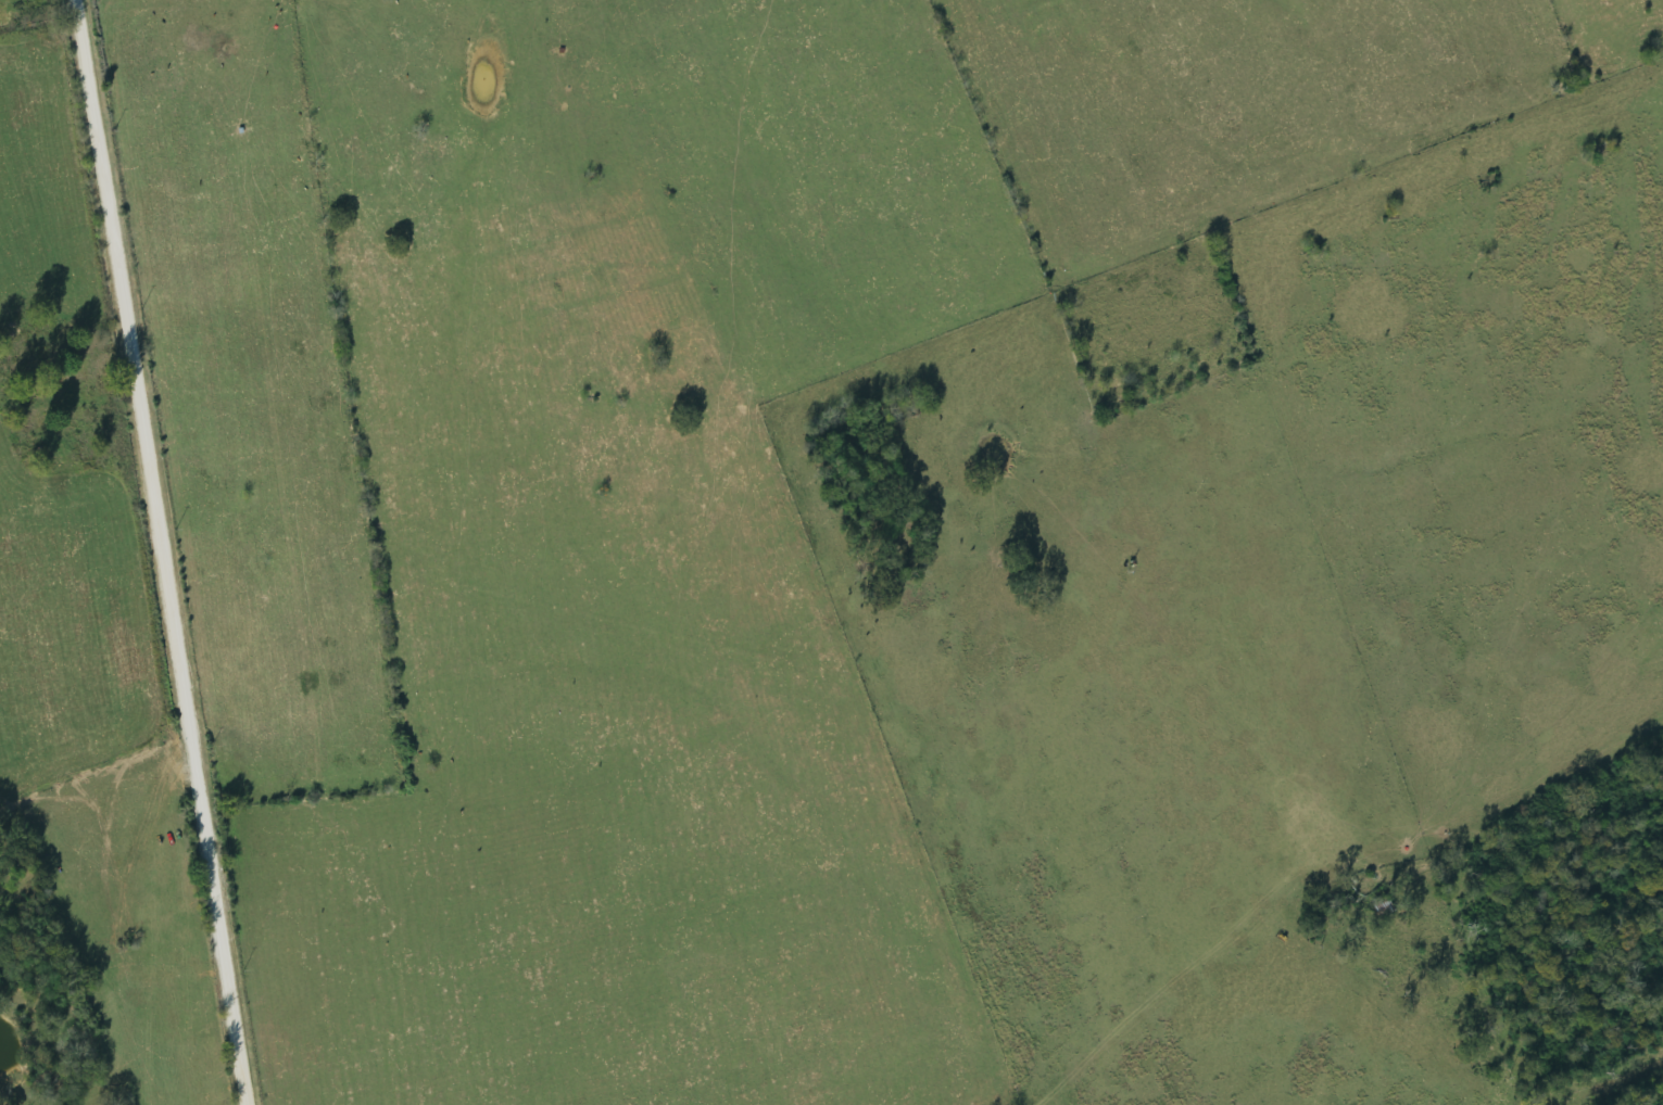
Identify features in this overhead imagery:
building: (0, 2)
road: (155, 552)

